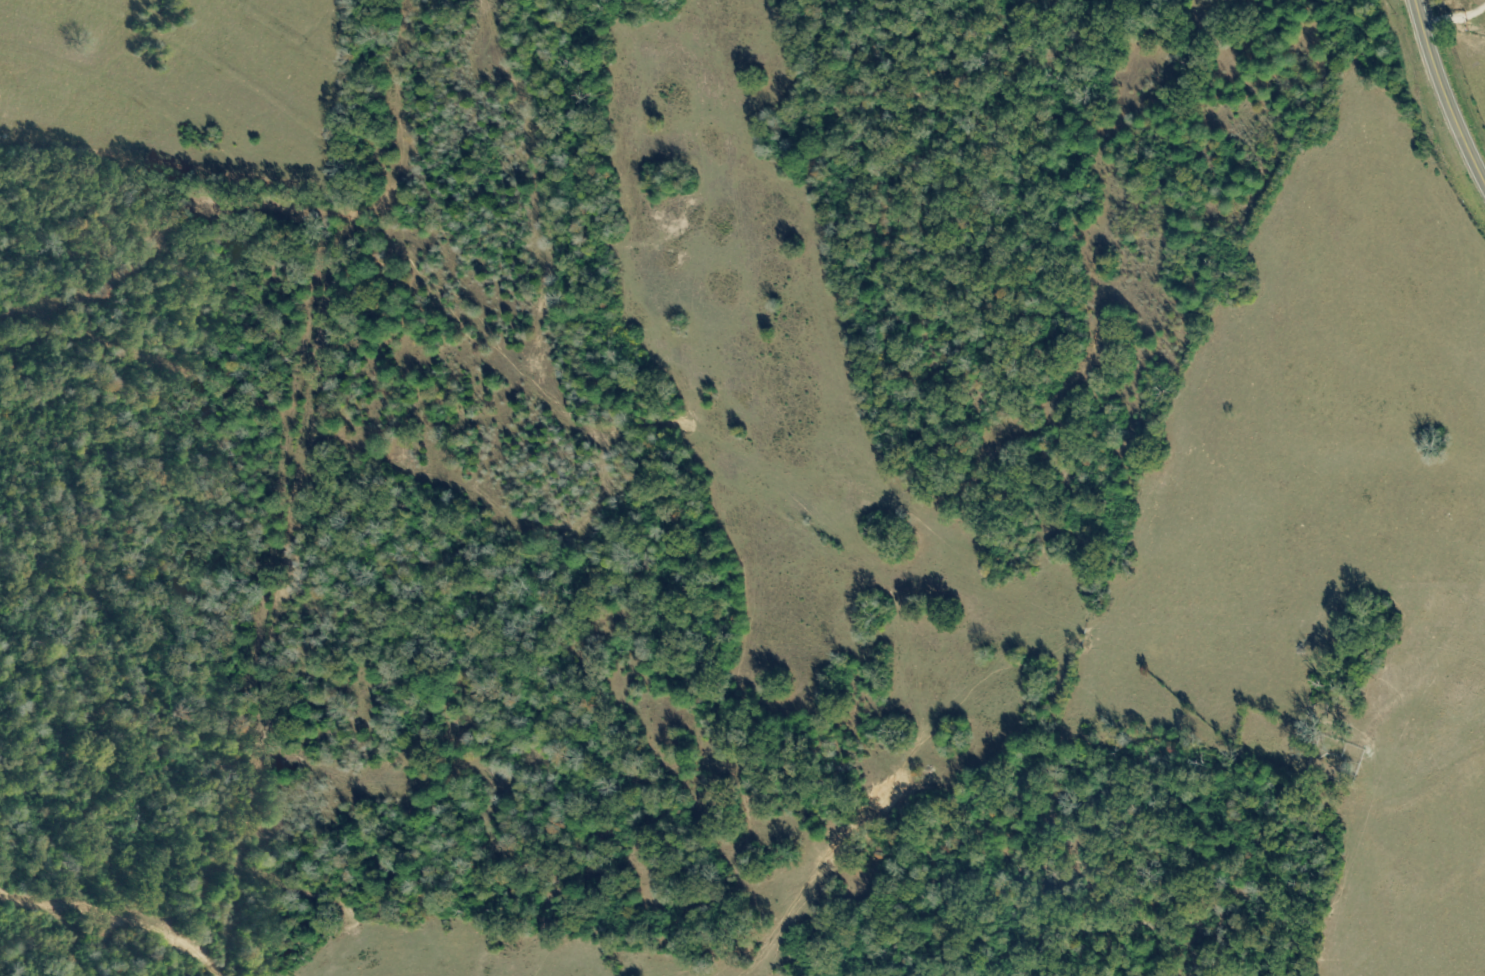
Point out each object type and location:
road: (1444, 92)

